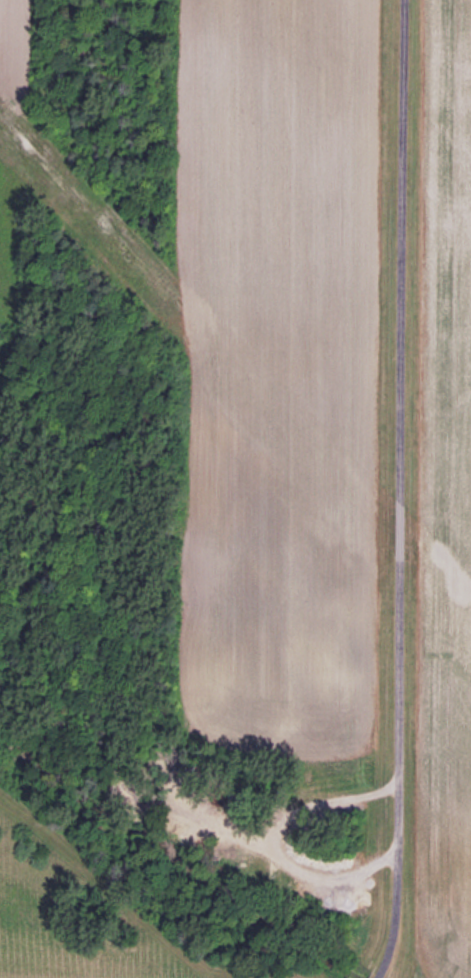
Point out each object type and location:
crop: (329, 404)
road: (394, 486)
road: (377, 974)

